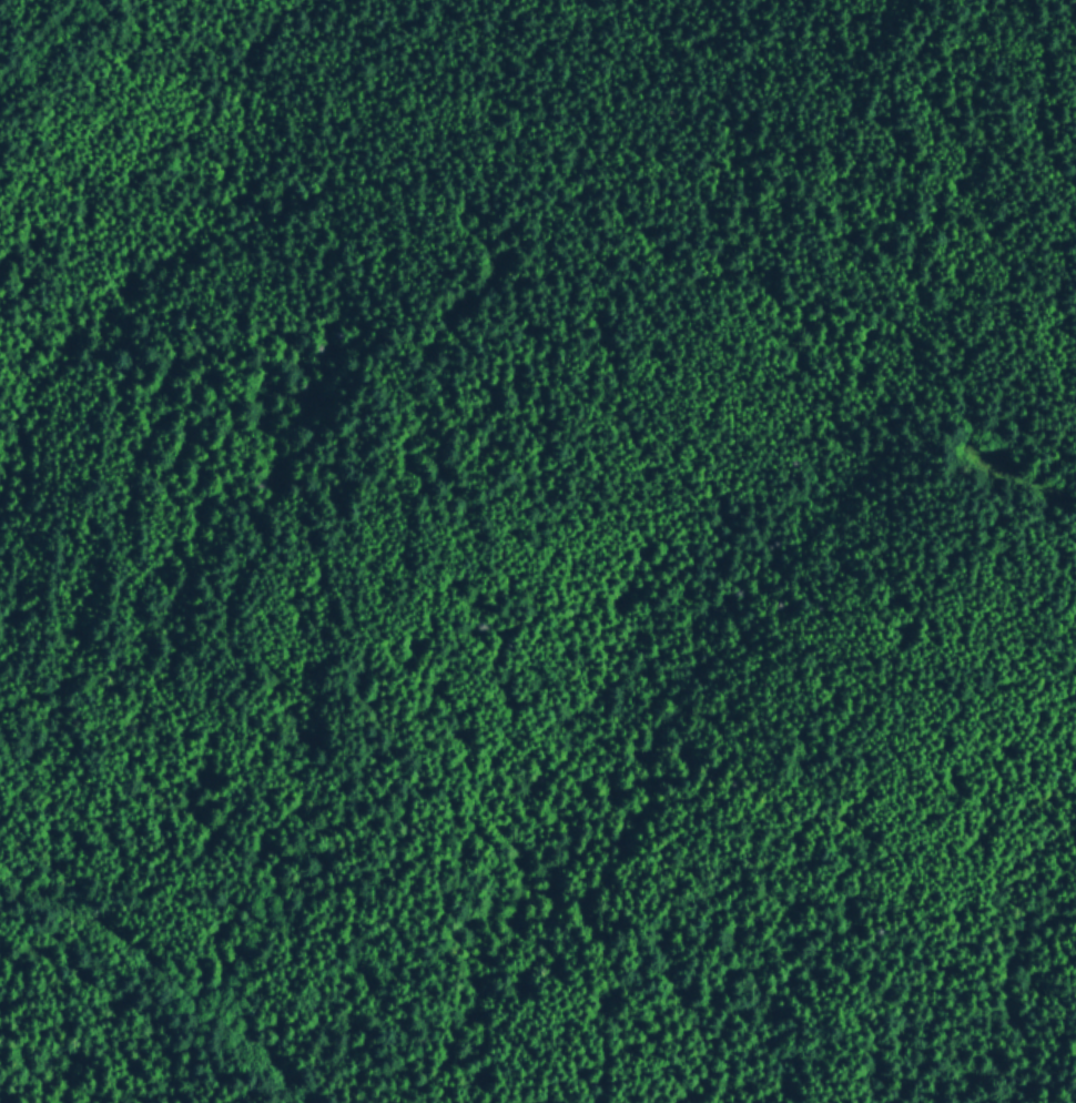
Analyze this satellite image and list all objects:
road: (1029, 484)
road: (166, 968)

